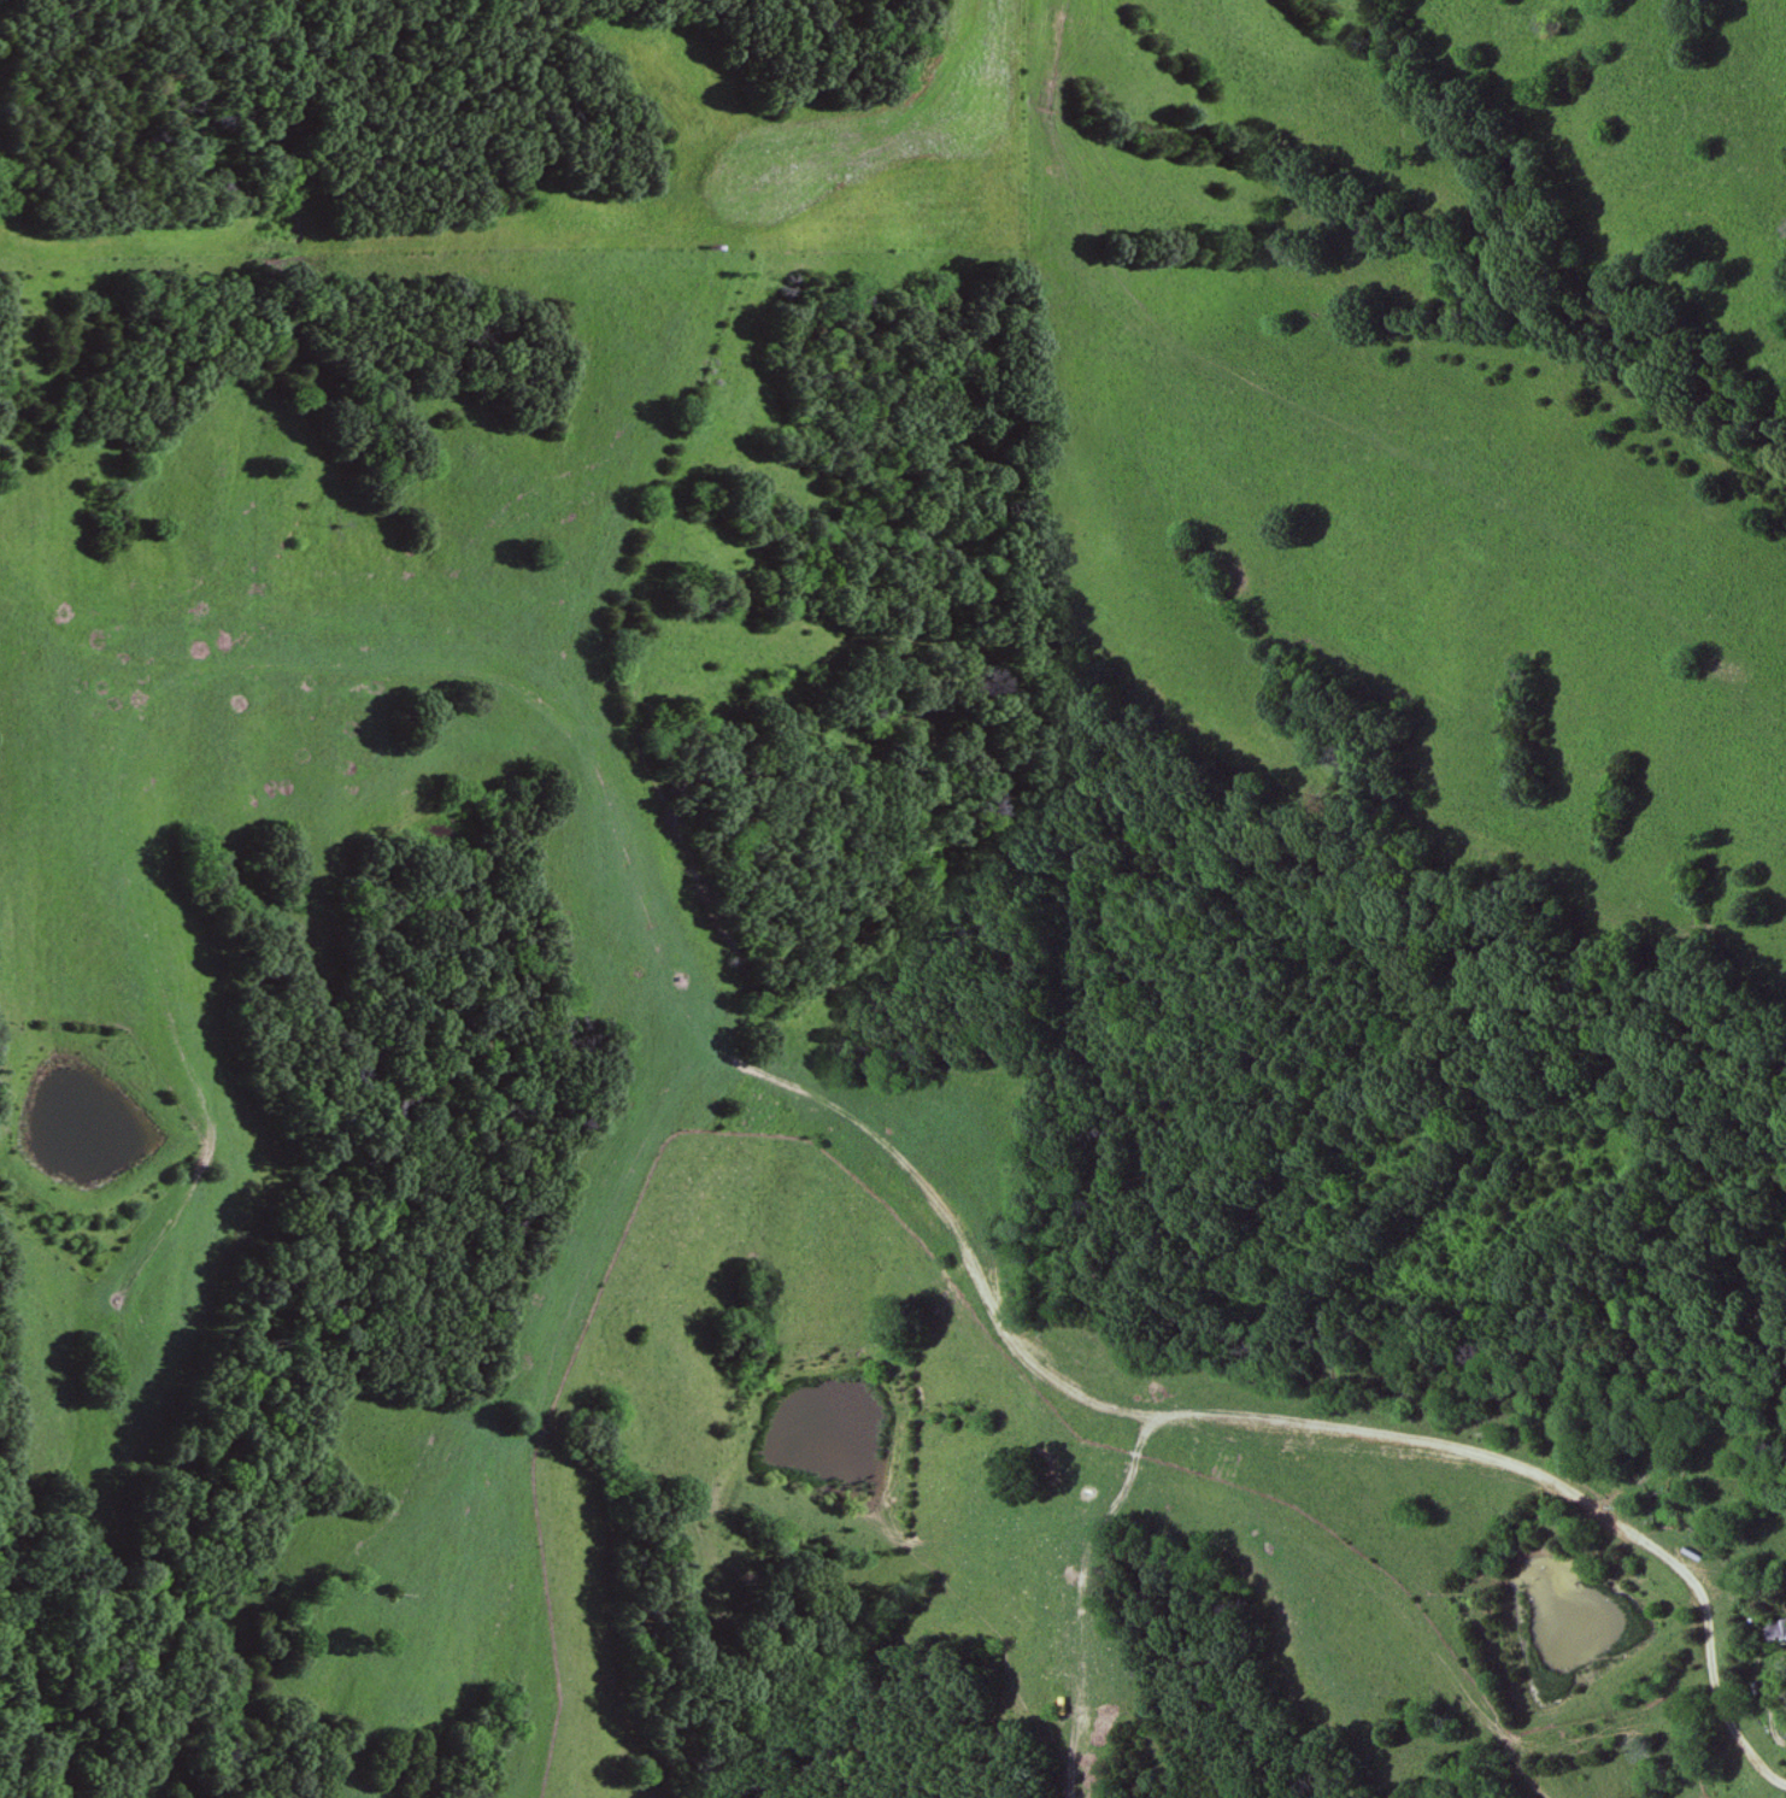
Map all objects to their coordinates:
building: (1778, 1632)
road: (1770, 1703)

